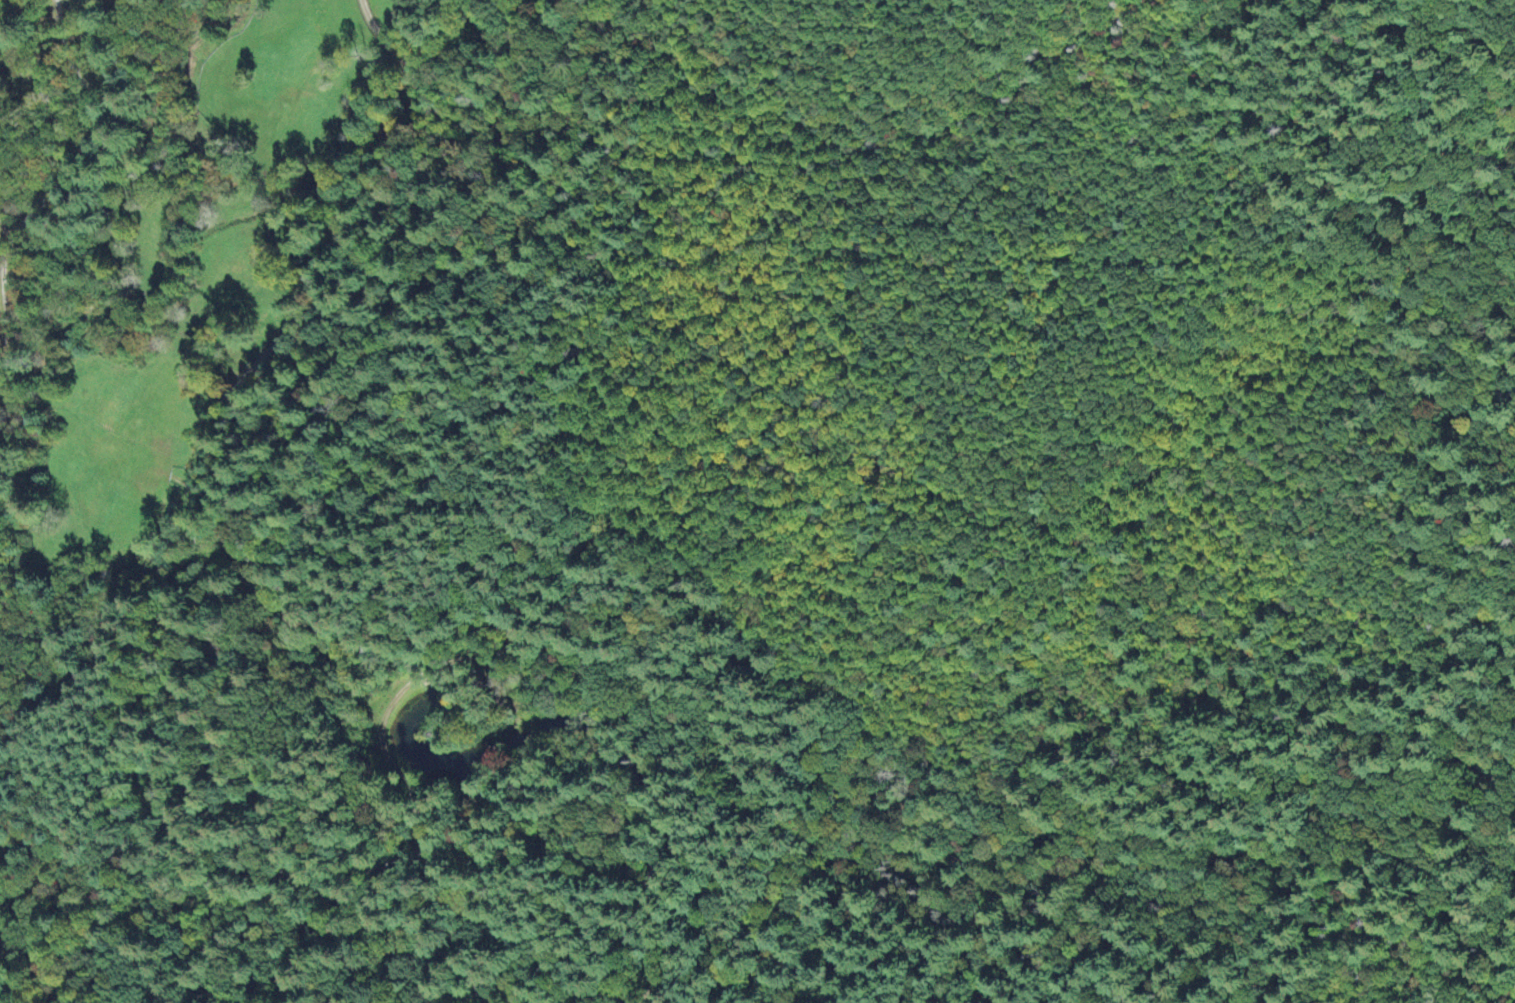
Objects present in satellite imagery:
road: (43, 198)
road: (805, 991)

